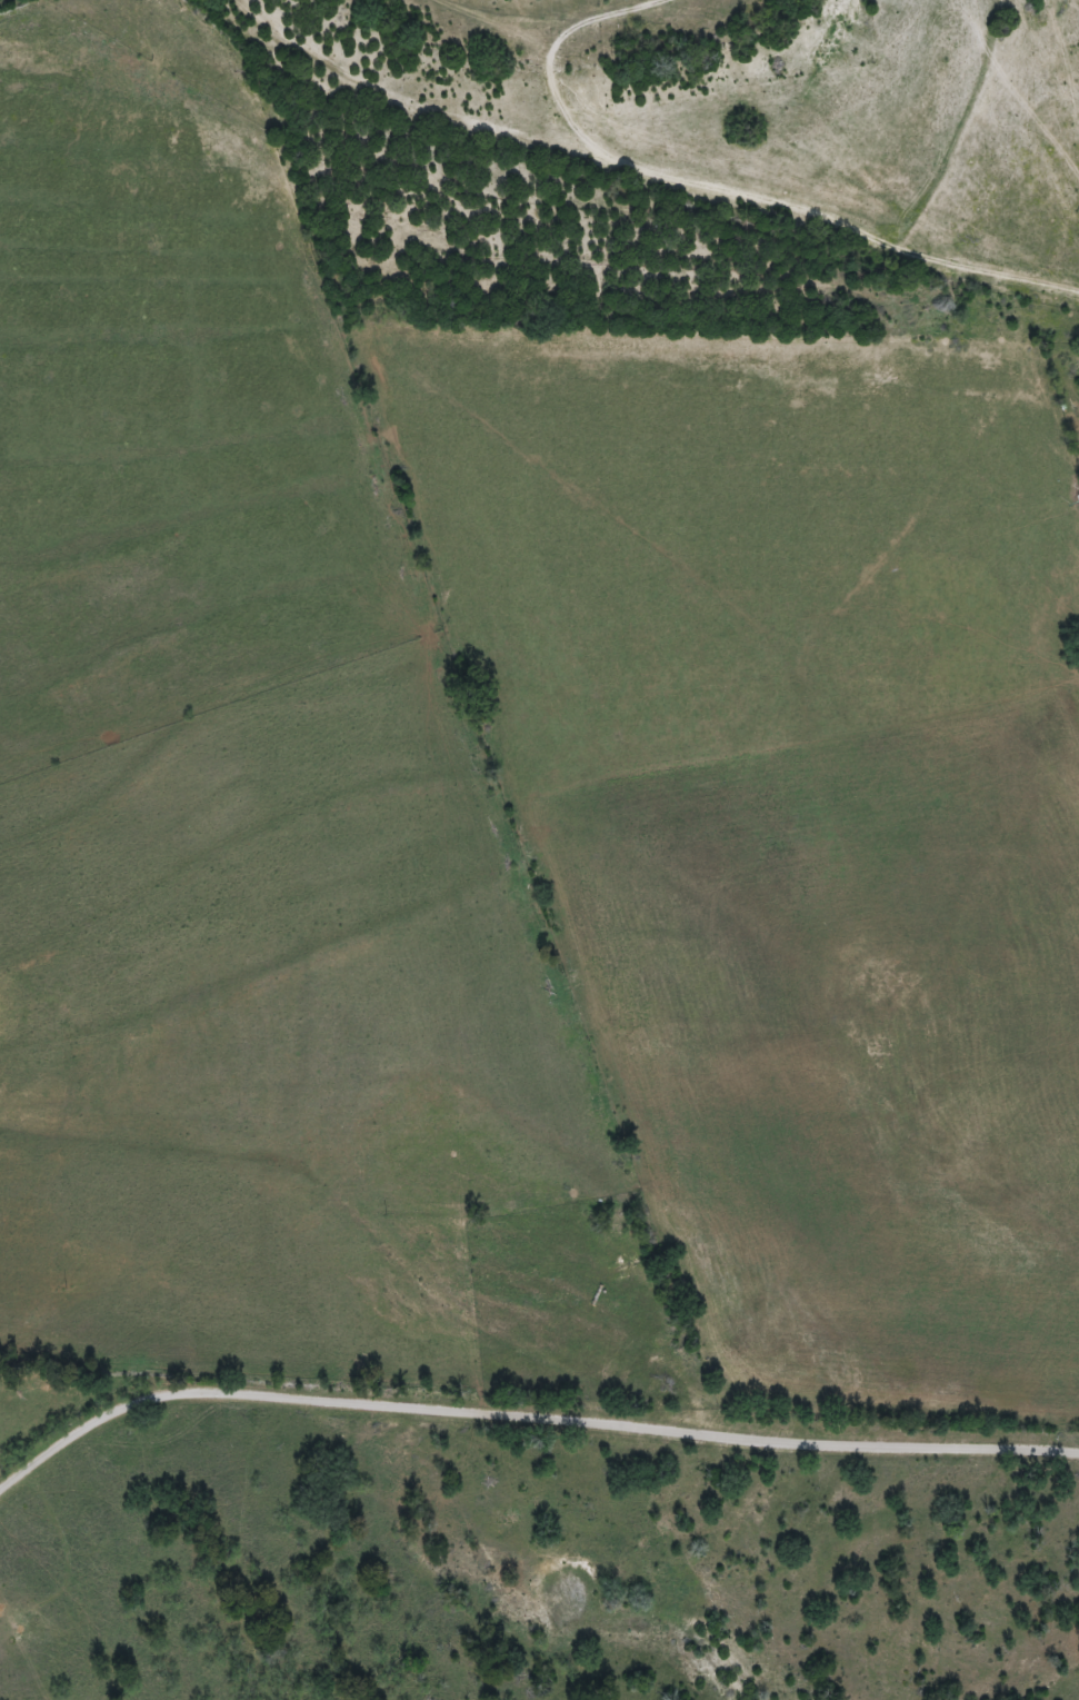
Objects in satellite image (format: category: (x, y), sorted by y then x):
road: (1063, 325)
road: (524, 1402)

